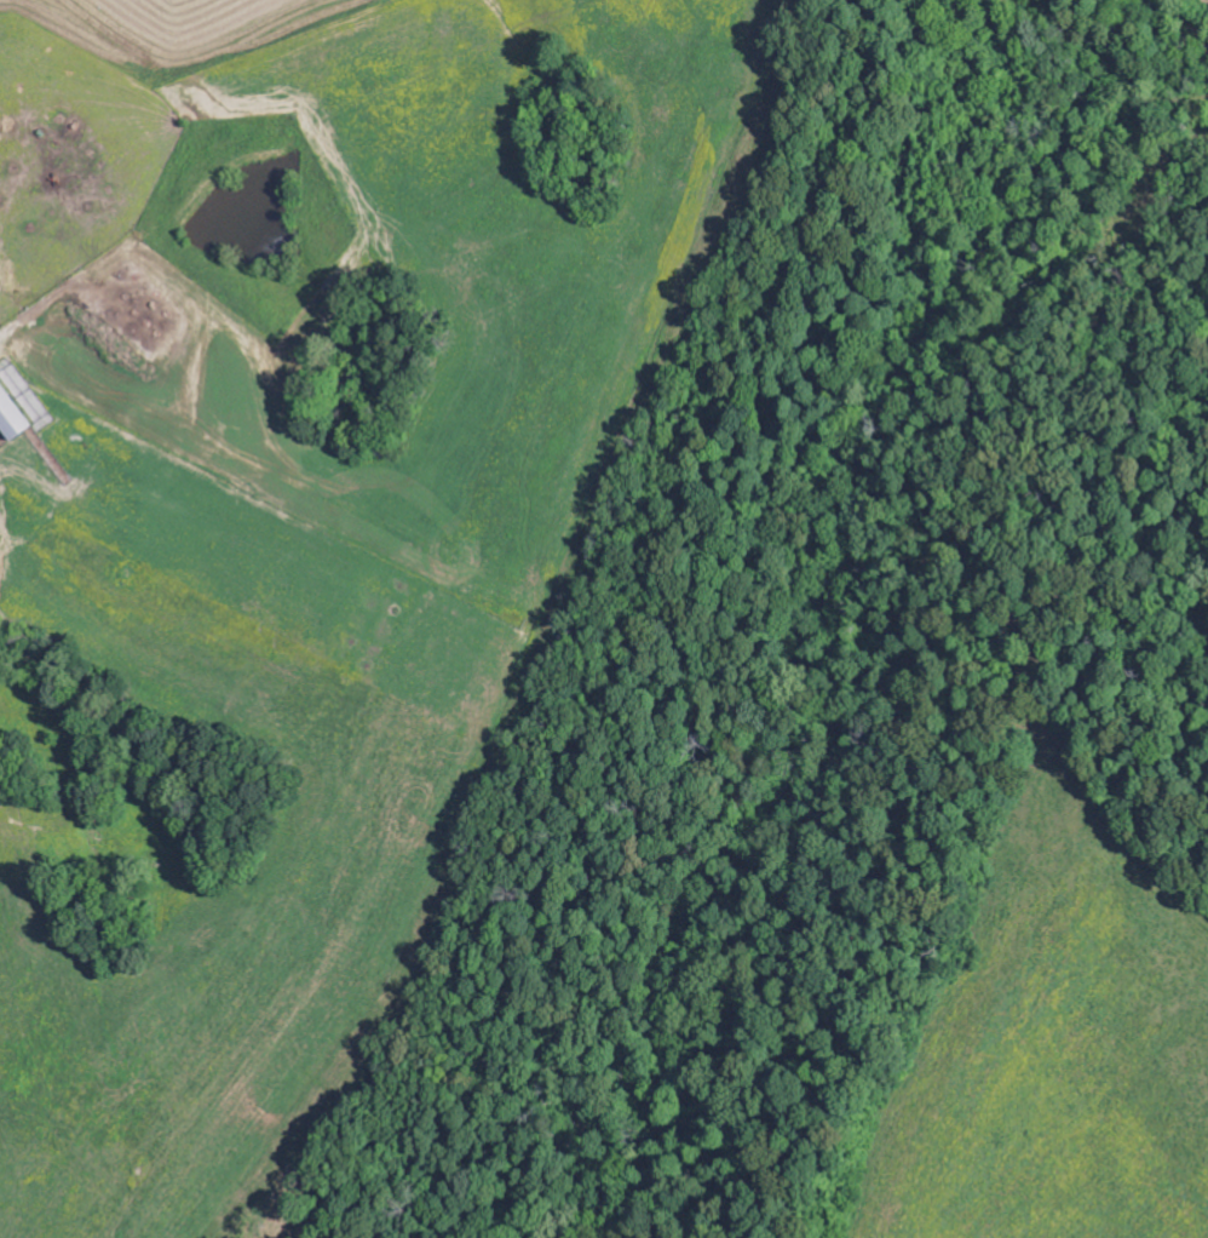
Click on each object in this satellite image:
building: (16, 411)

